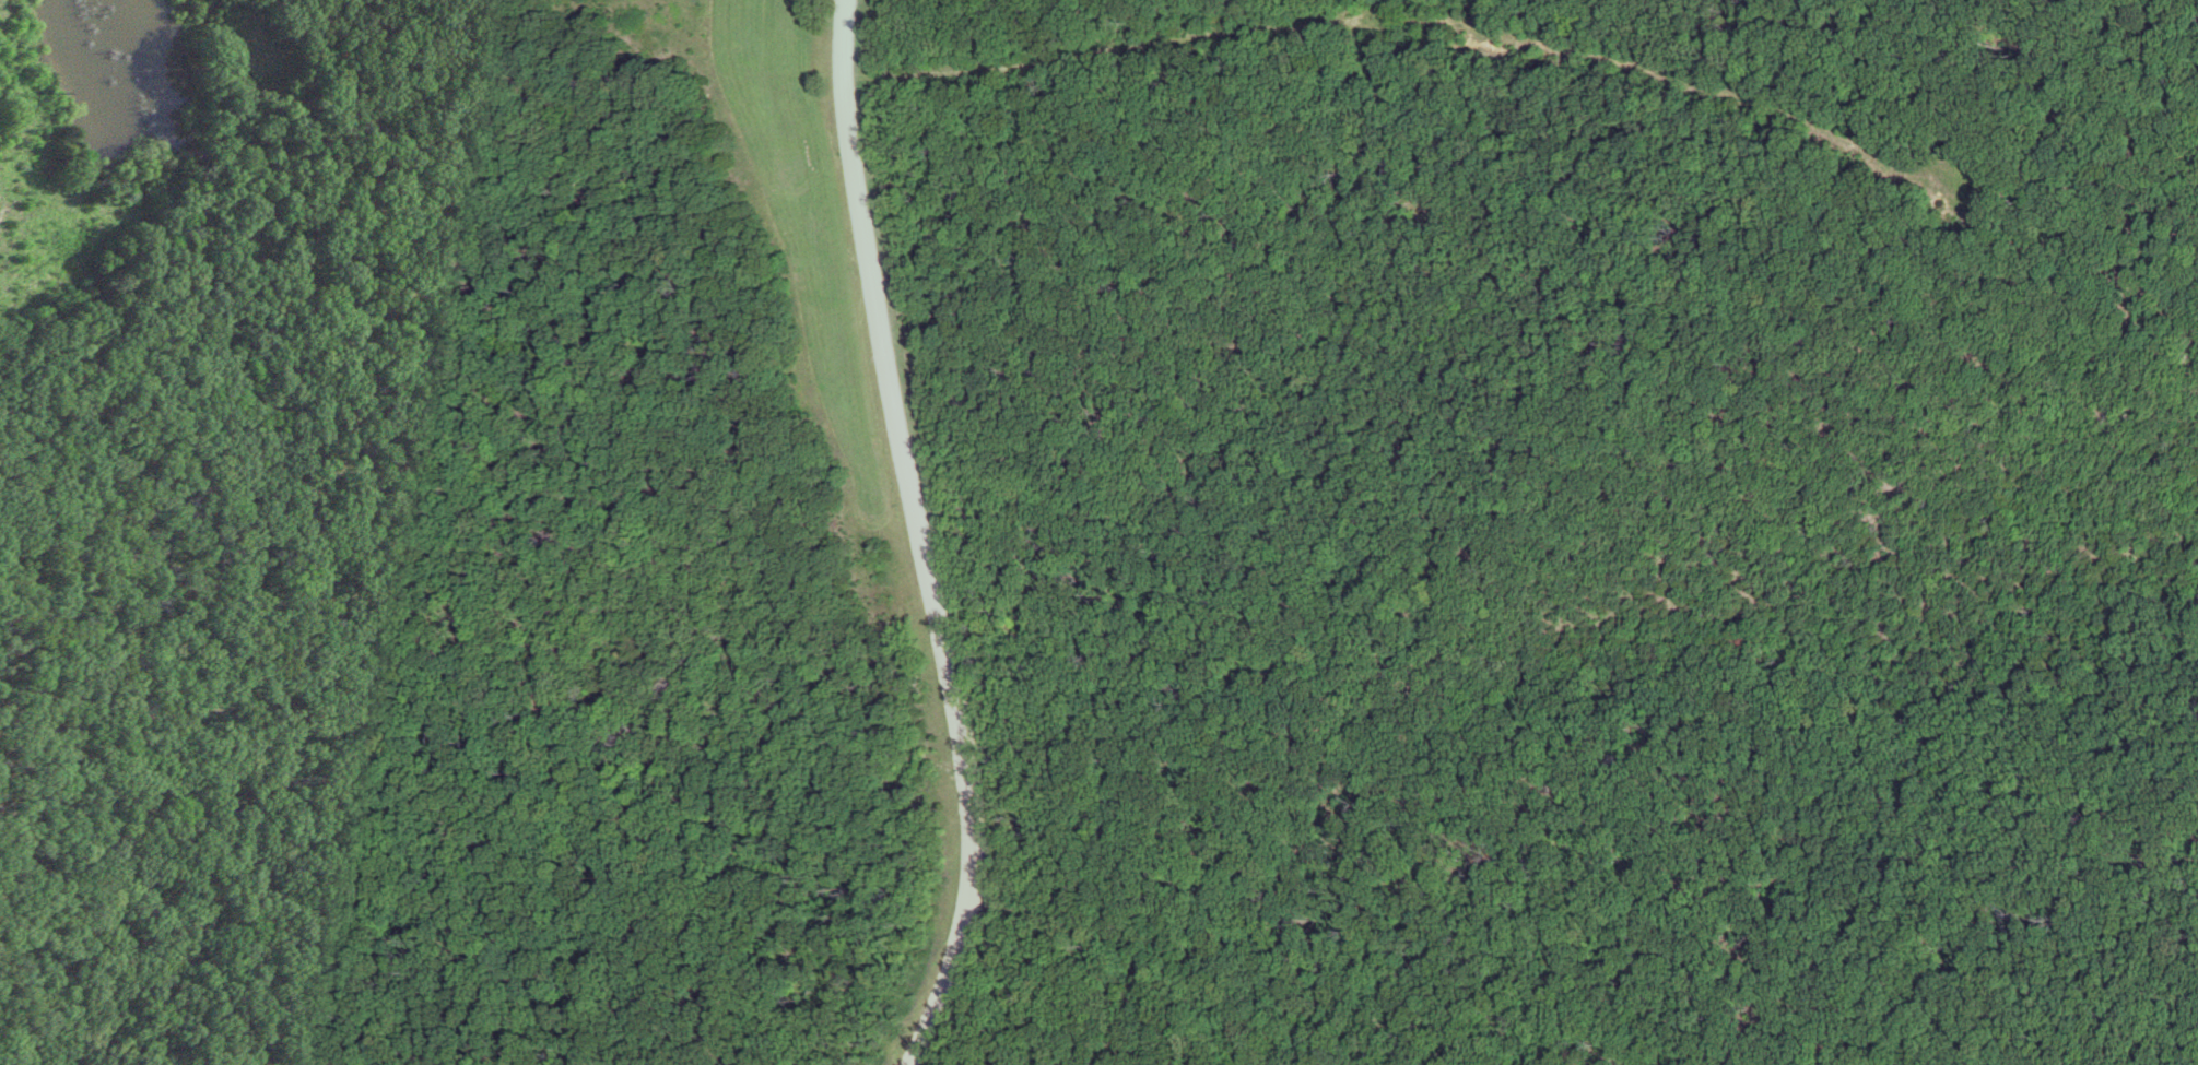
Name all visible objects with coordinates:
road: (915, 539)

